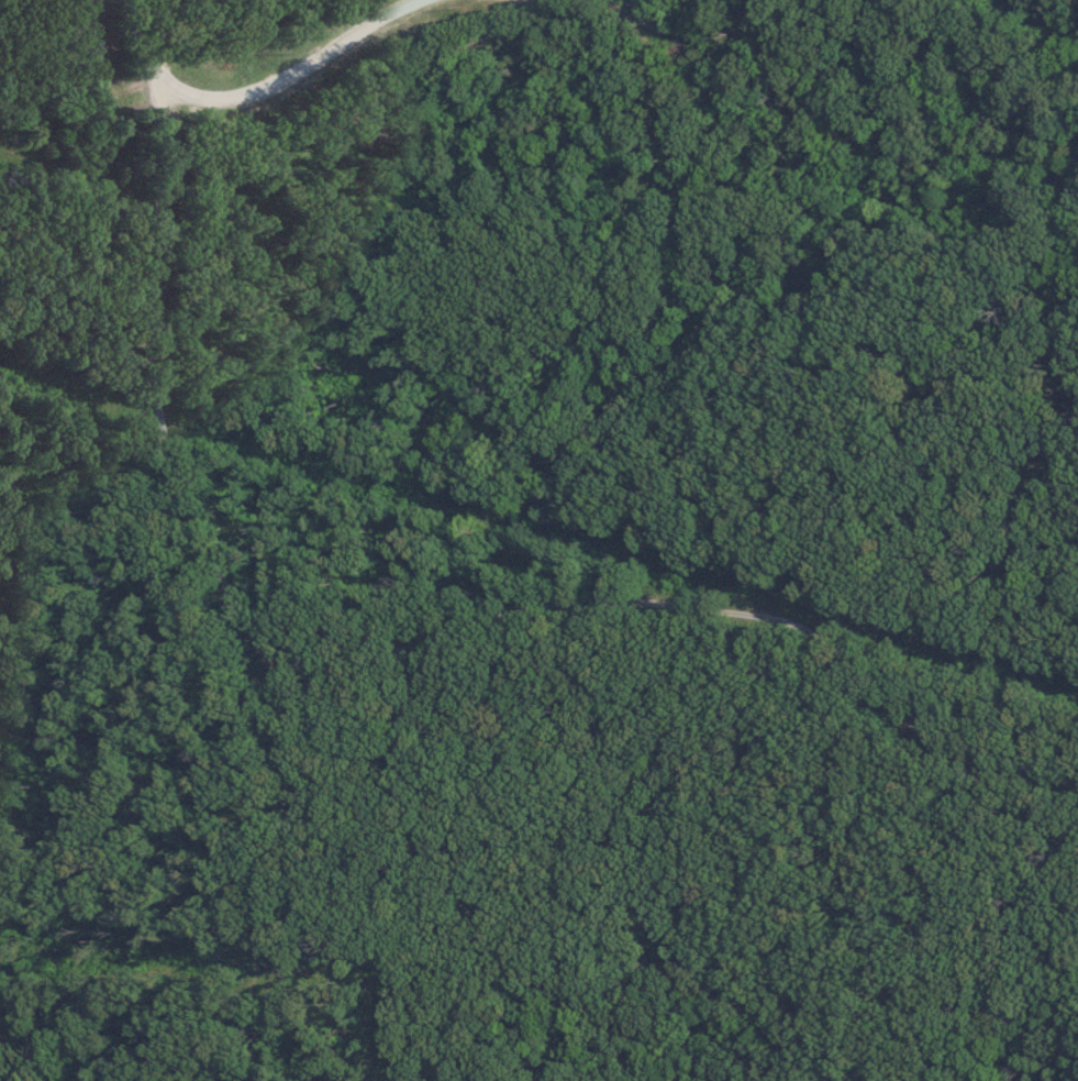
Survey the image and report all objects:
road: (238, 91)
road: (387, 669)

